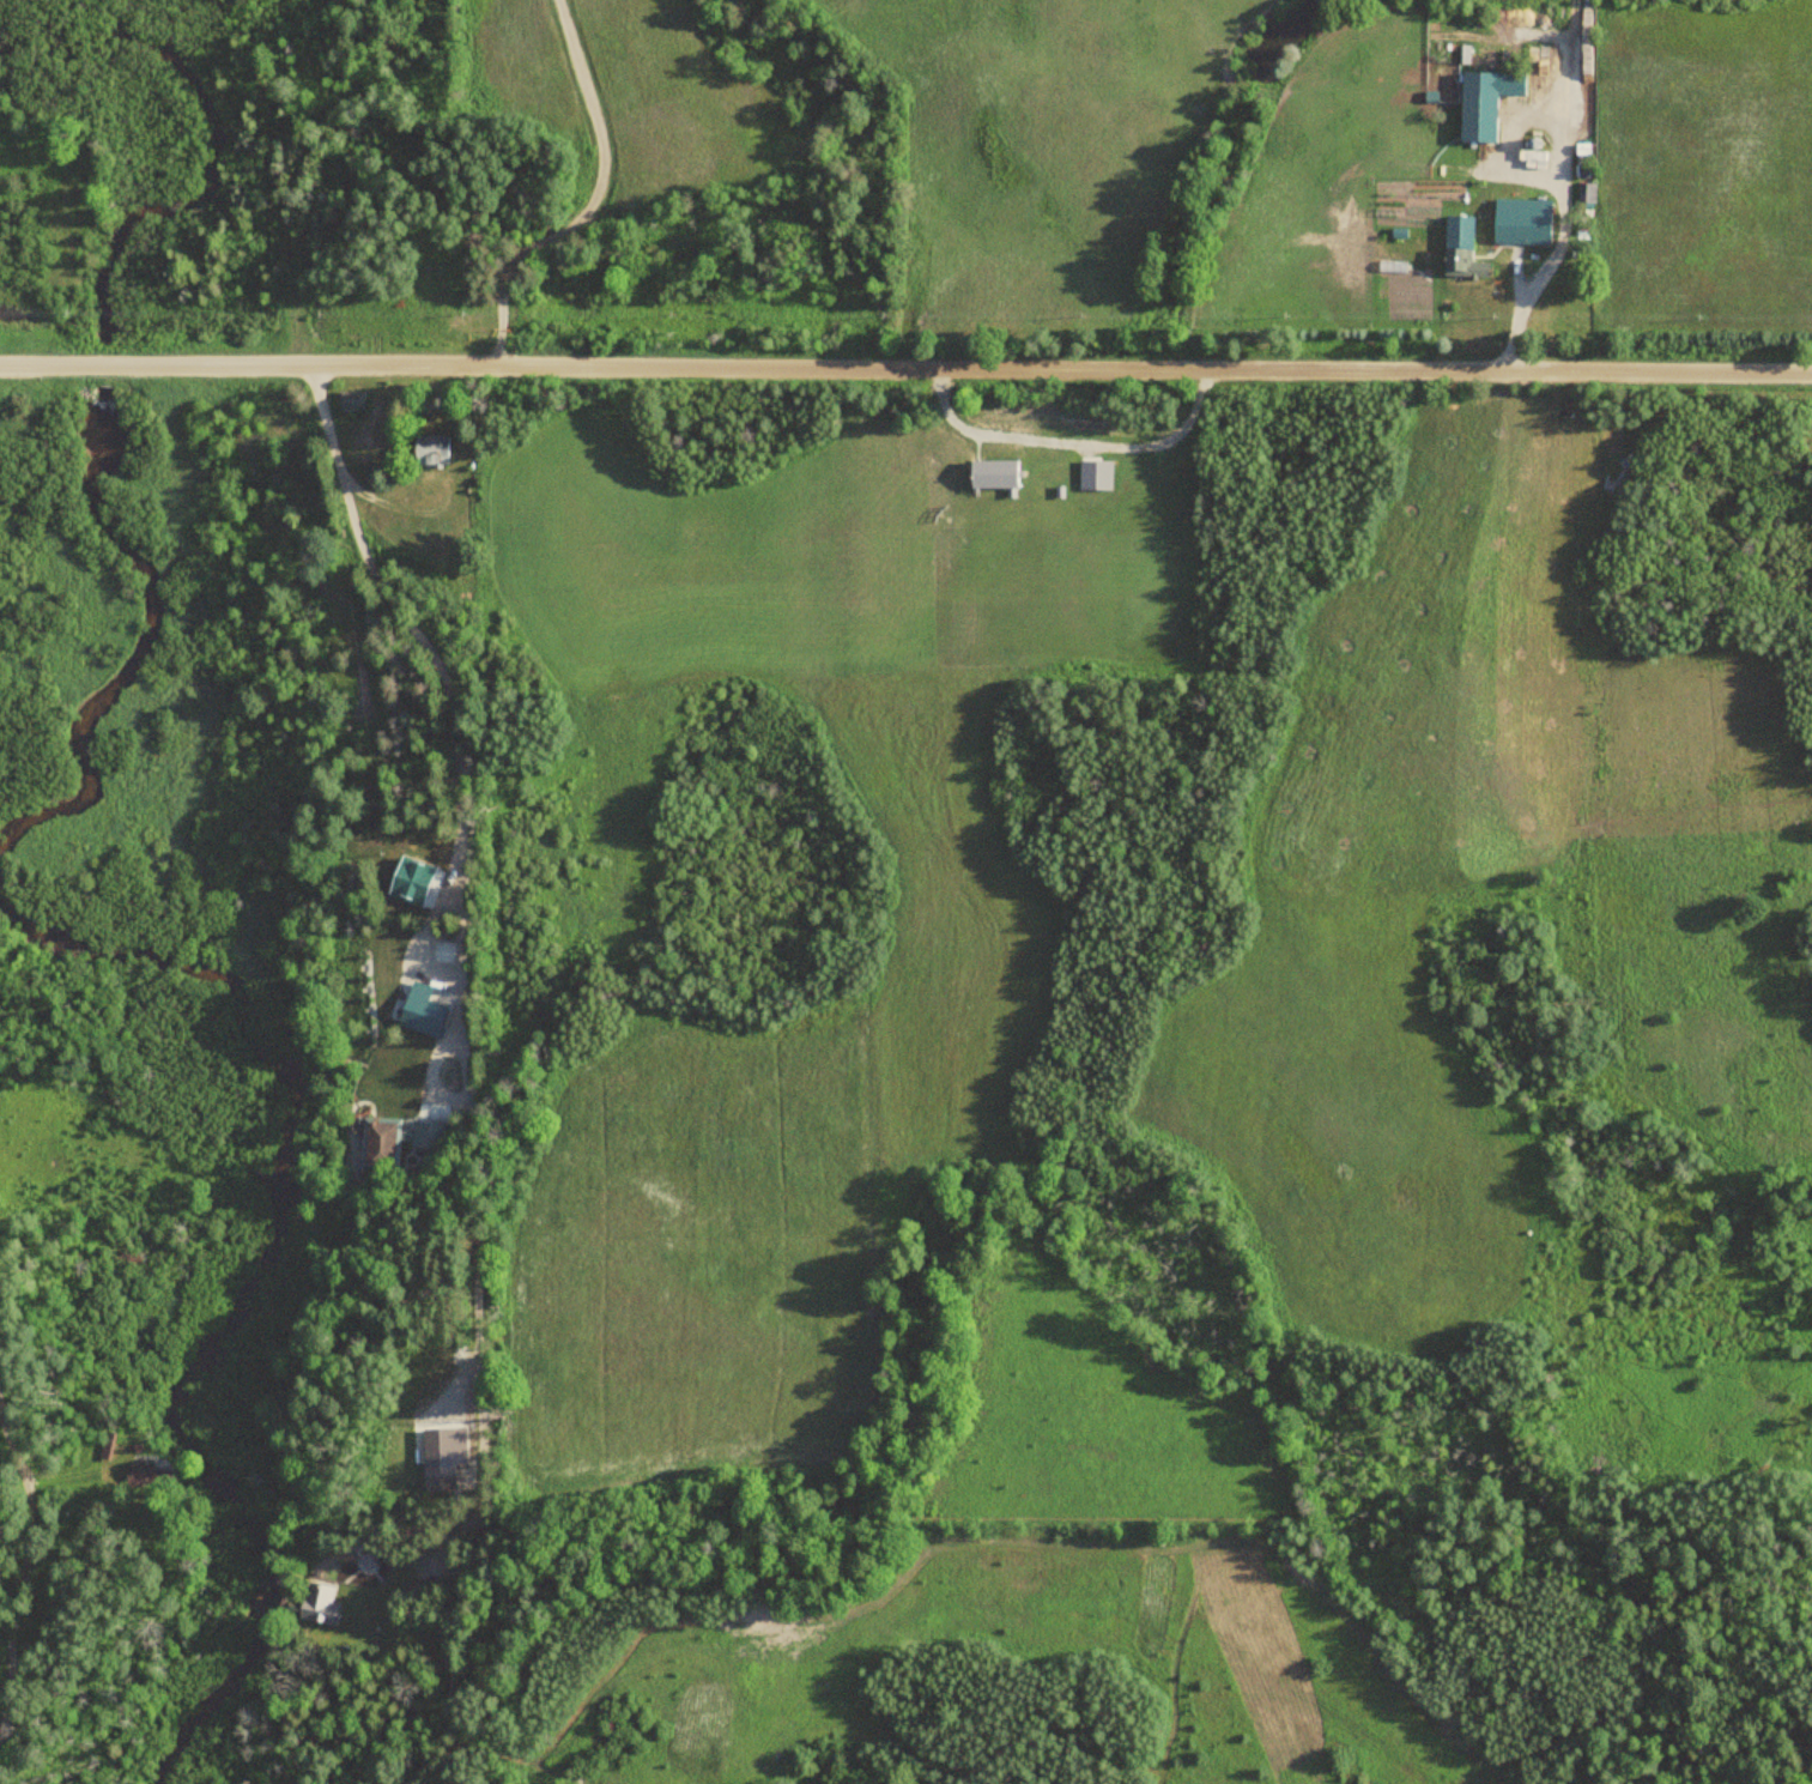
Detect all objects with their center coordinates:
river: (216, 138)
building: (1588, 193)
road: (594, 202)
building: (1459, 259)
road: (65, 364)
river: (105, 365)
road: (970, 369)
building: (351, 401)
building: (429, 452)
road: (465, 901)
river: (242, 1020)
building: (428, 1020)
building: (380, 1142)
building: (139, 1472)
building: (449, 1476)
road: (16, 1561)
building: (320, 1604)

